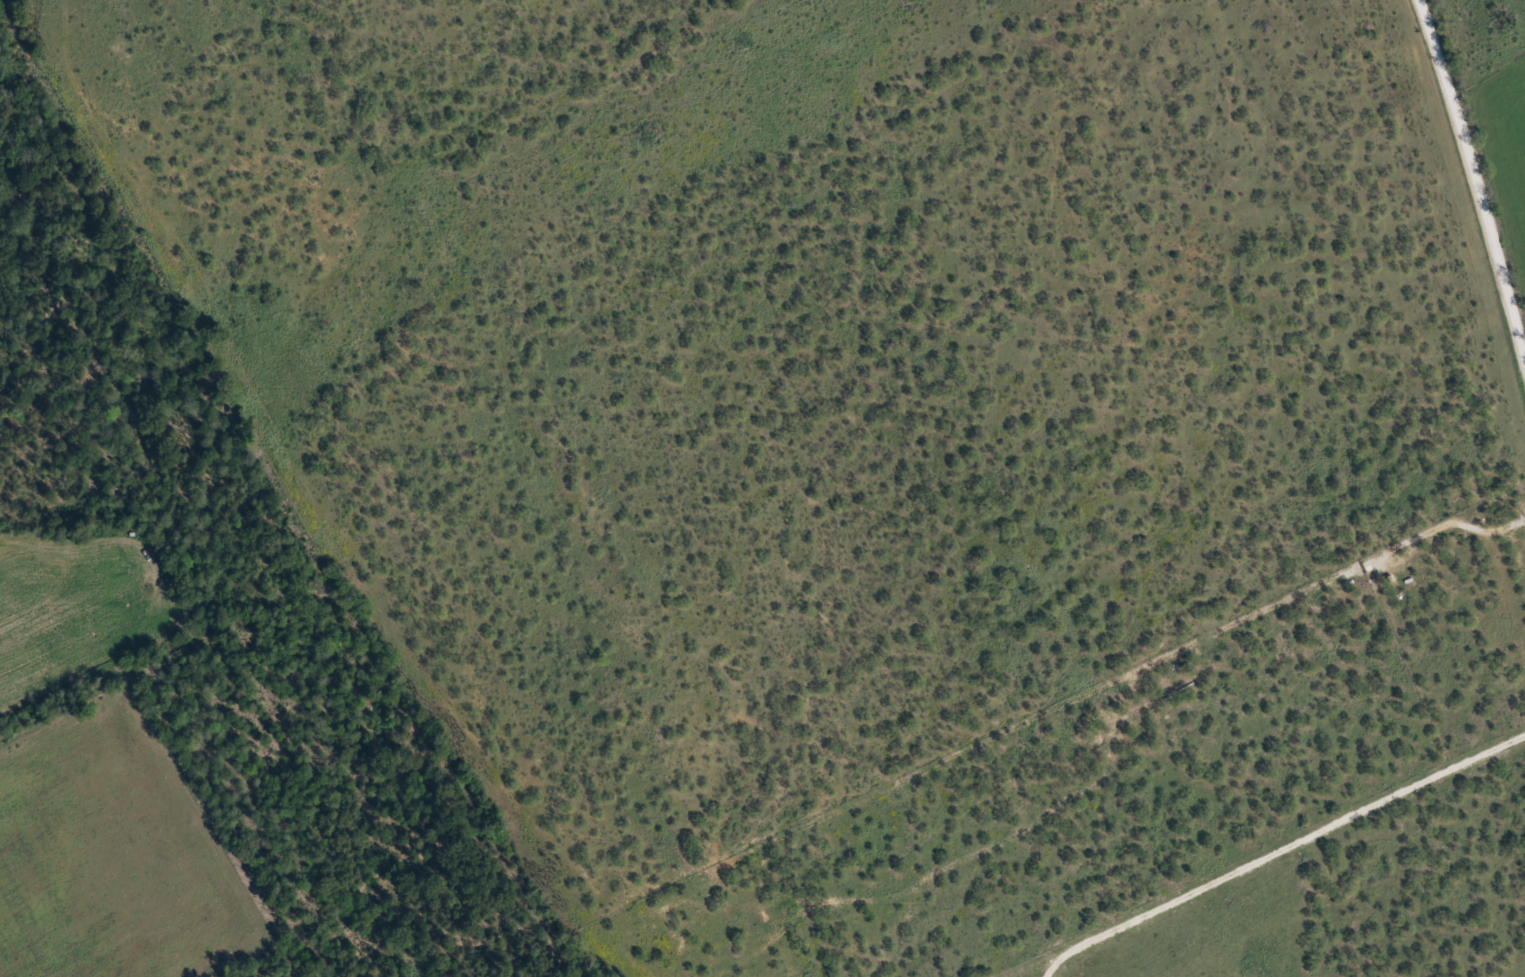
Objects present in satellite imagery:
road: (1478, 168)
road: (137, 591)

